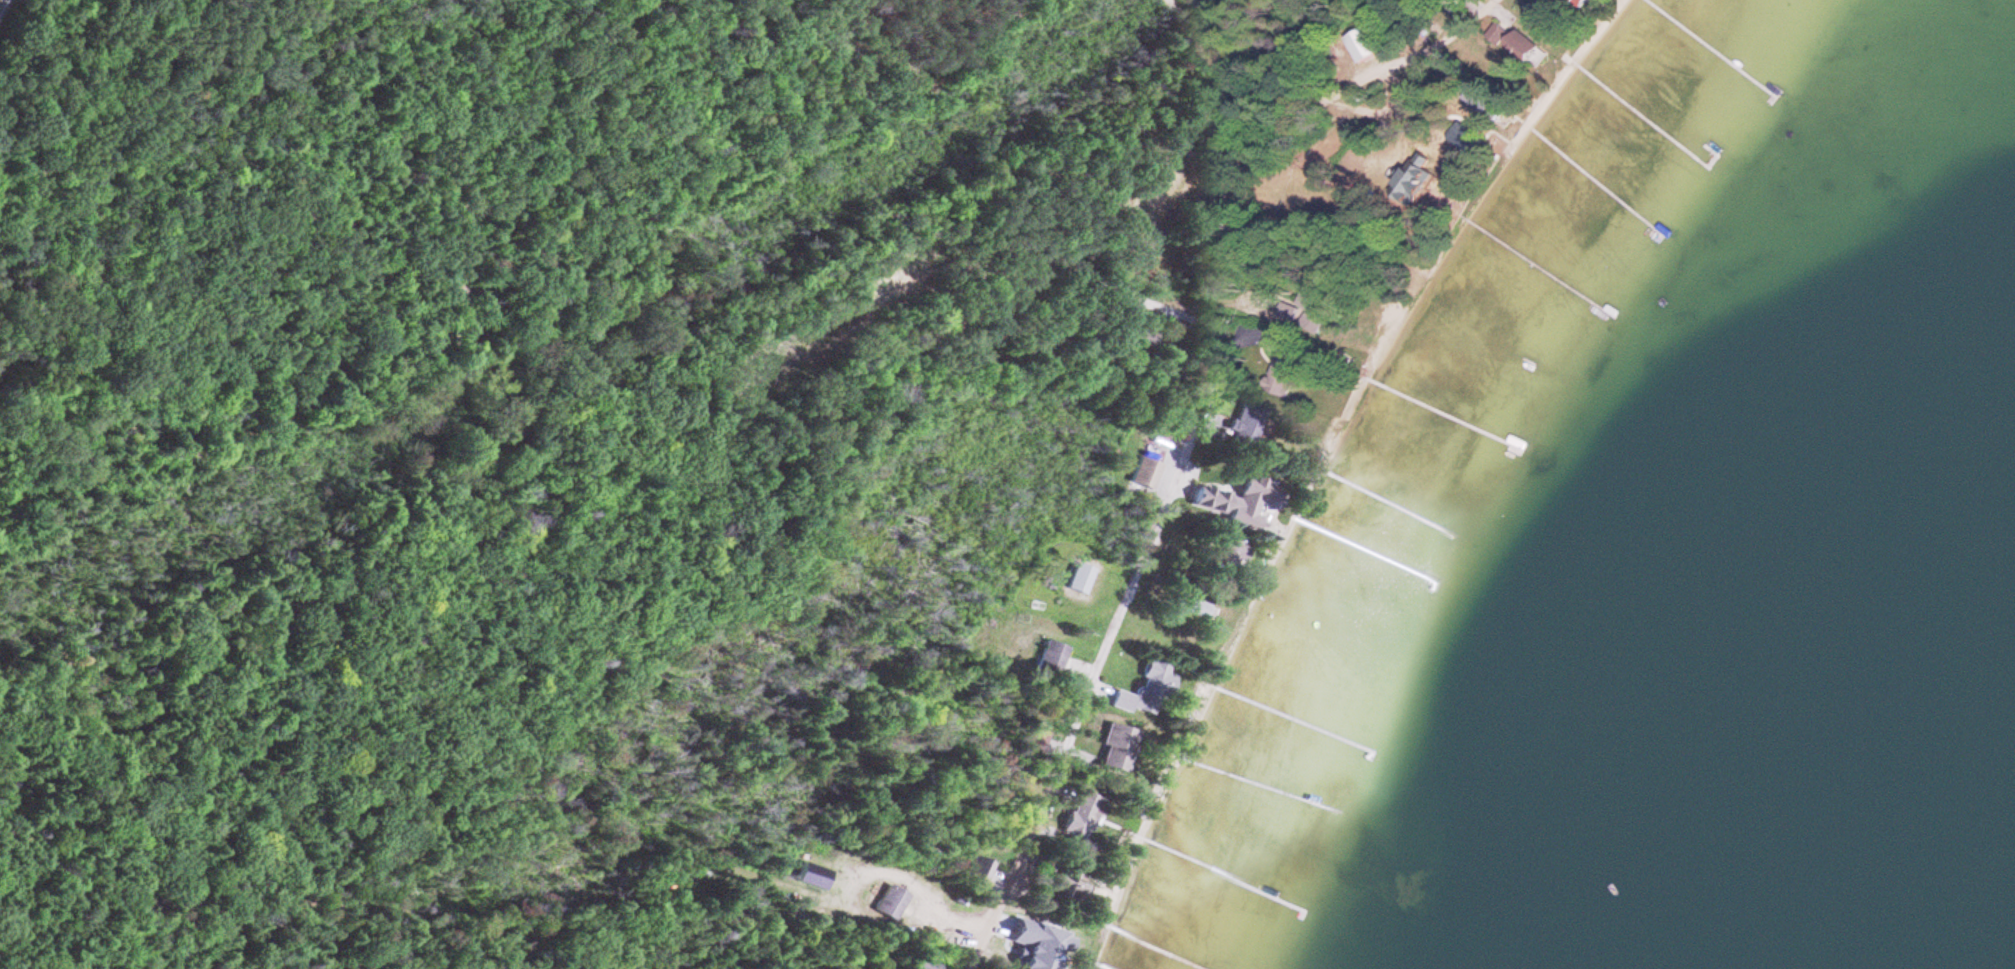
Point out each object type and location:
building: (1577, 2)
road: (1477, 5)
building: (1361, 46)
building: (1516, 46)
road: (1307, 95)
building: (1135, 484)
road: (544, 490)
road: (1146, 533)
building: (1074, 582)
building: (1196, 612)
building: (1045, 661)
road: (1014, 866)
building: (886, 905)

